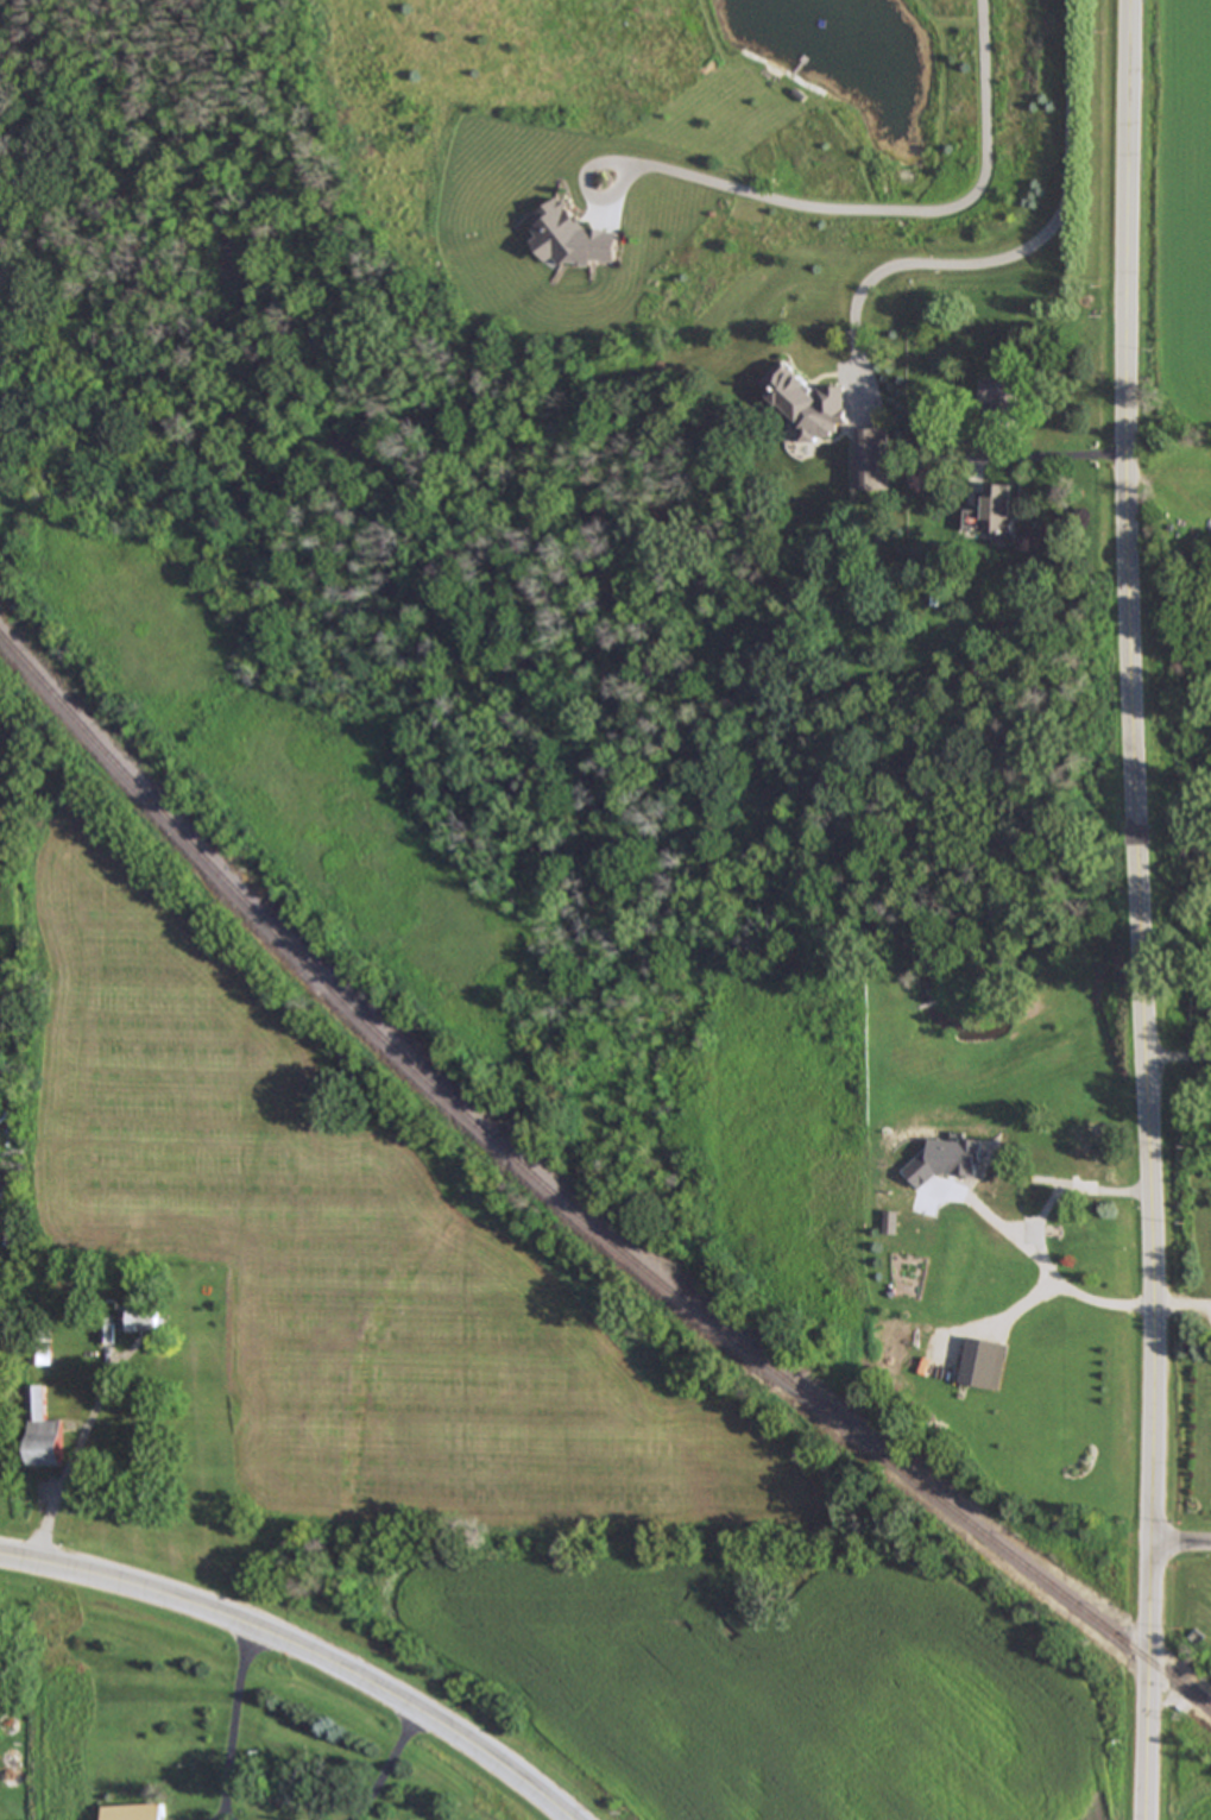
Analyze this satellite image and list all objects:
road: (891, 212)
building: (572, 237)
road: (1009, 254)
building: (1002, 395)
road: (1045, 453)
building: (875, 459)
building: (995, 514)
road: (1139, 909)
road: (1177, 1053)
building: (1097, 1166)
railway: (572, 1208)
building: (1013, 1228)
road: (1041, 1239)
building: (140, 1318)
building: (39, 1356)
building: (42, 1429)
road: (68, 1466)
road: (1179, 1545)
road: (302, 1651)
road: (233, 1724)
road: (386, 1767)

